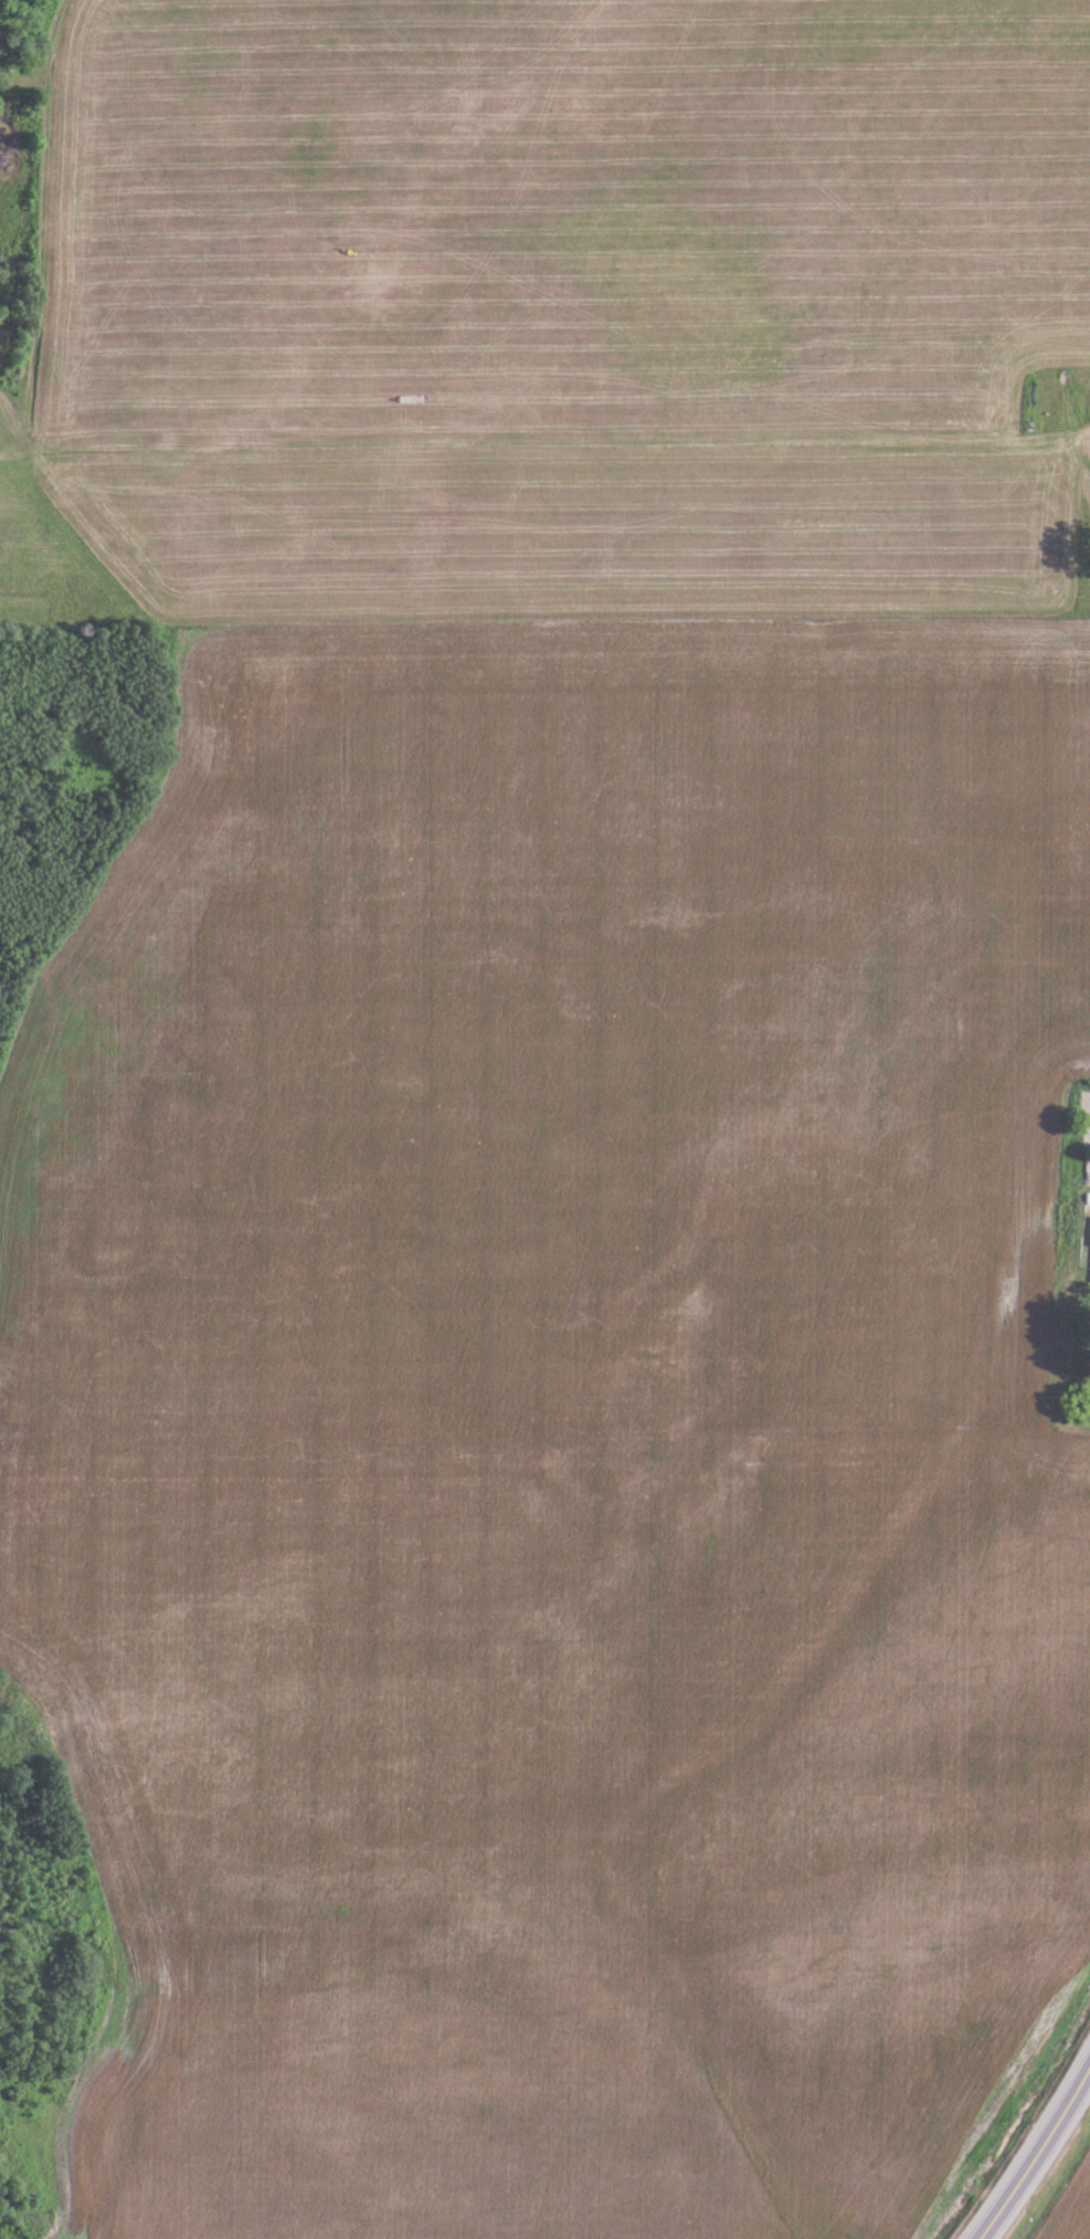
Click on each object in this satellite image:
road: (1039, 2155)

